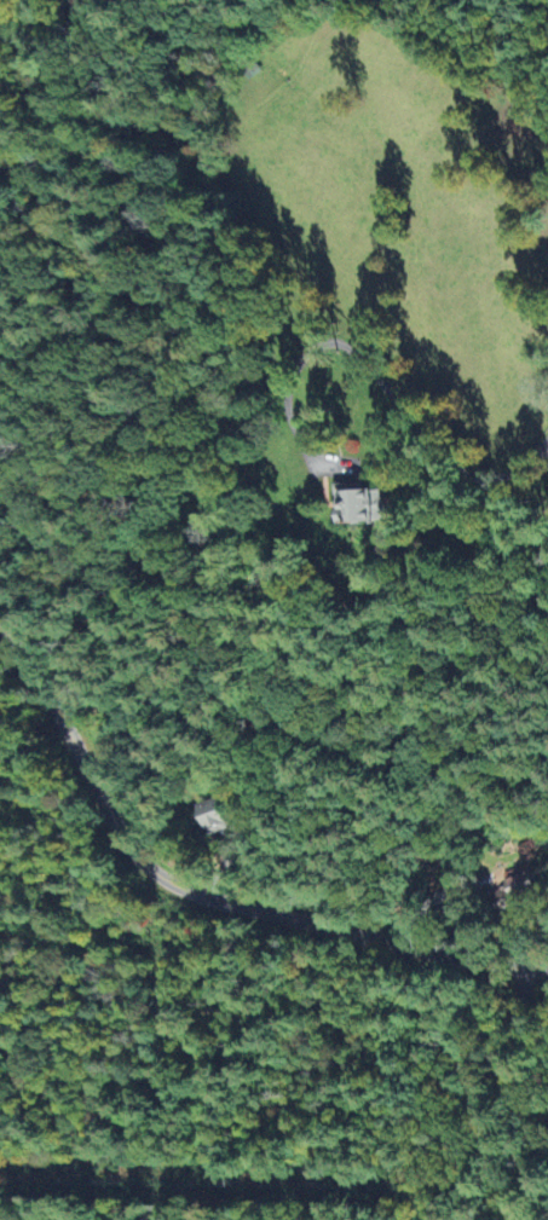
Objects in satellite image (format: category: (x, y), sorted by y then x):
building: (356, 509)
road: (116, 605)
building: (514, 894)
road: (206, 895)
road: (512, 1010)

